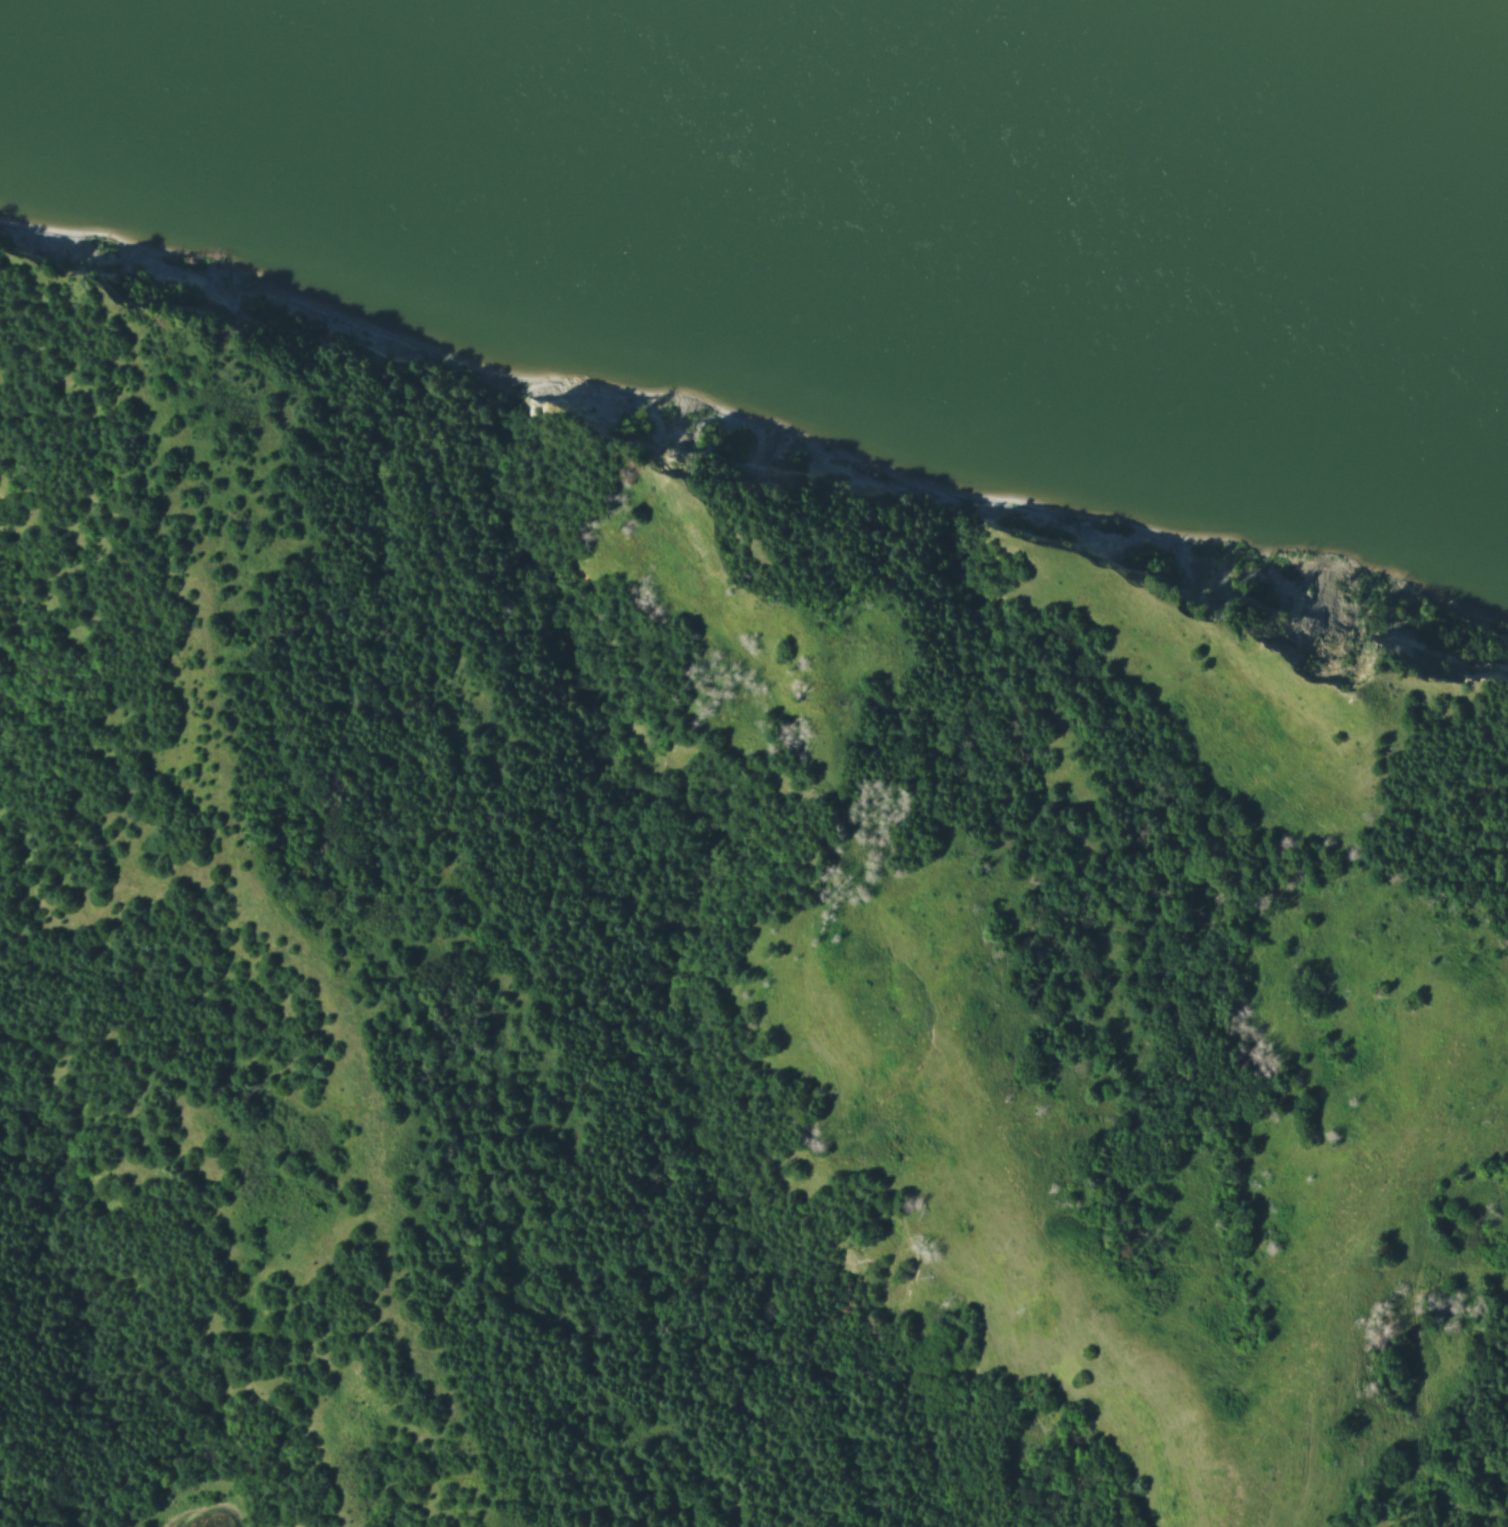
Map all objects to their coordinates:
river: (1094, 135)

